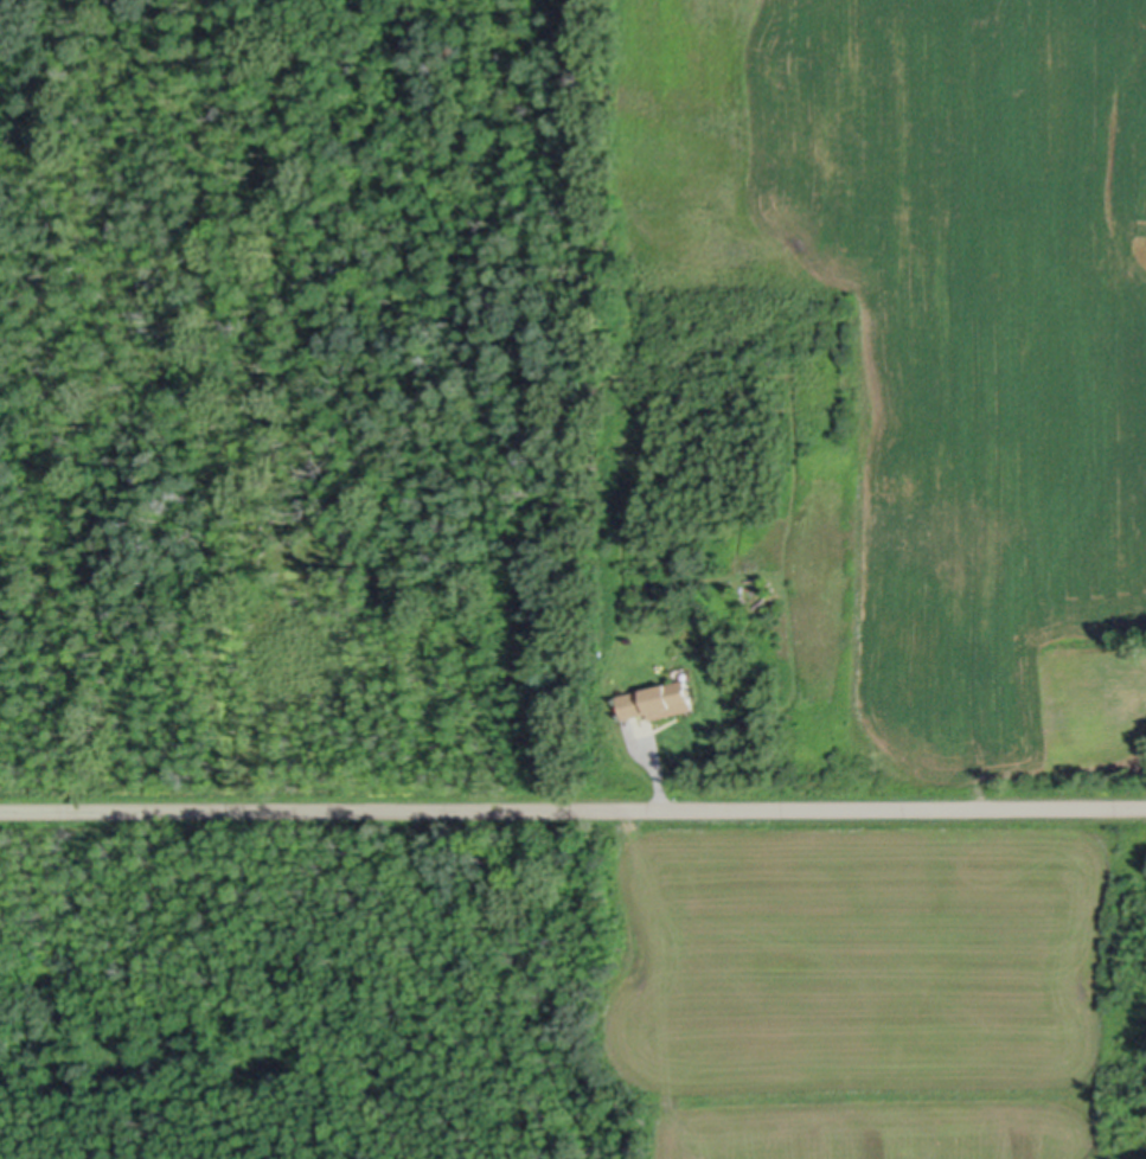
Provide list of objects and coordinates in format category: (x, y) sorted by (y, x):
building: (653, 699)
road: (657, 774)
road: (572, 806)

